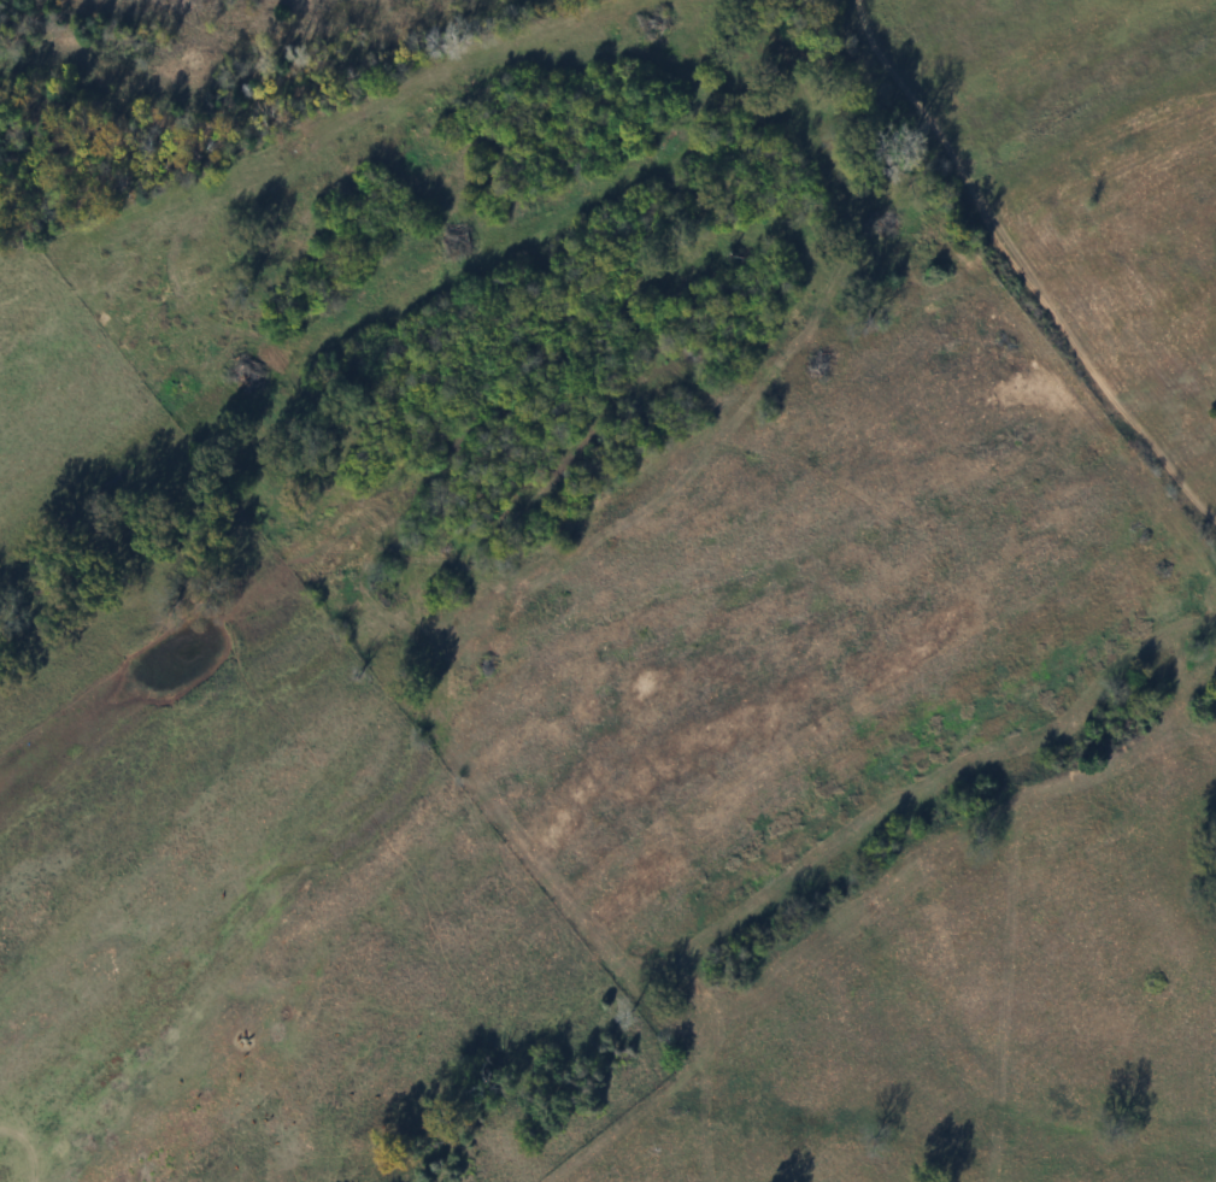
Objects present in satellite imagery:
road: (1142, 367)

